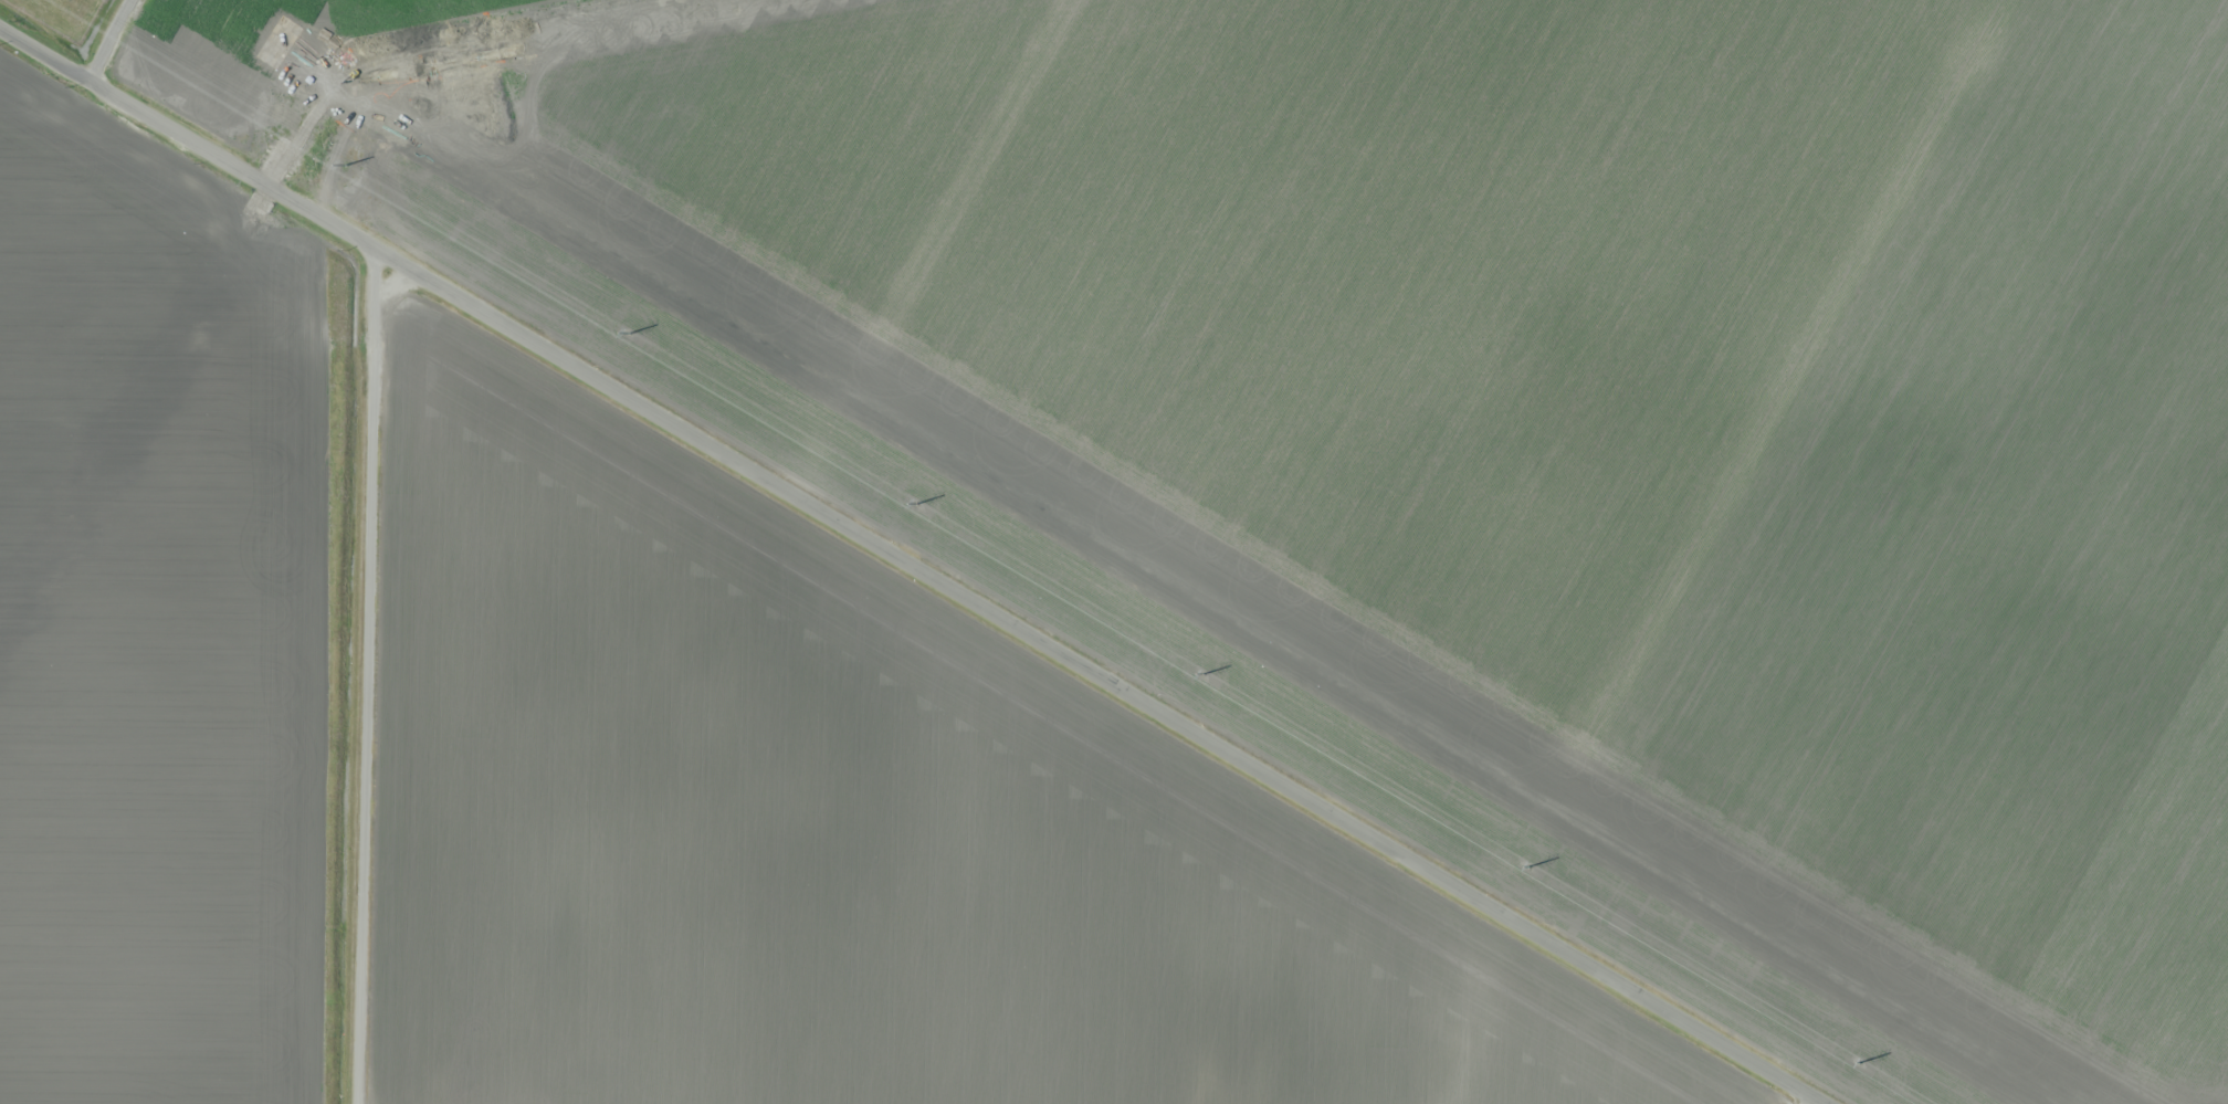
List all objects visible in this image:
road: (111, 41)
power tower: (345, 167)
power tower: (630, 335)
power tower: (915, 505)
road: (906, 568)
road: (356, 673)
power tower: (1202, 675)
power tower: (1528, 869)
power tower: (1859, 1064)

